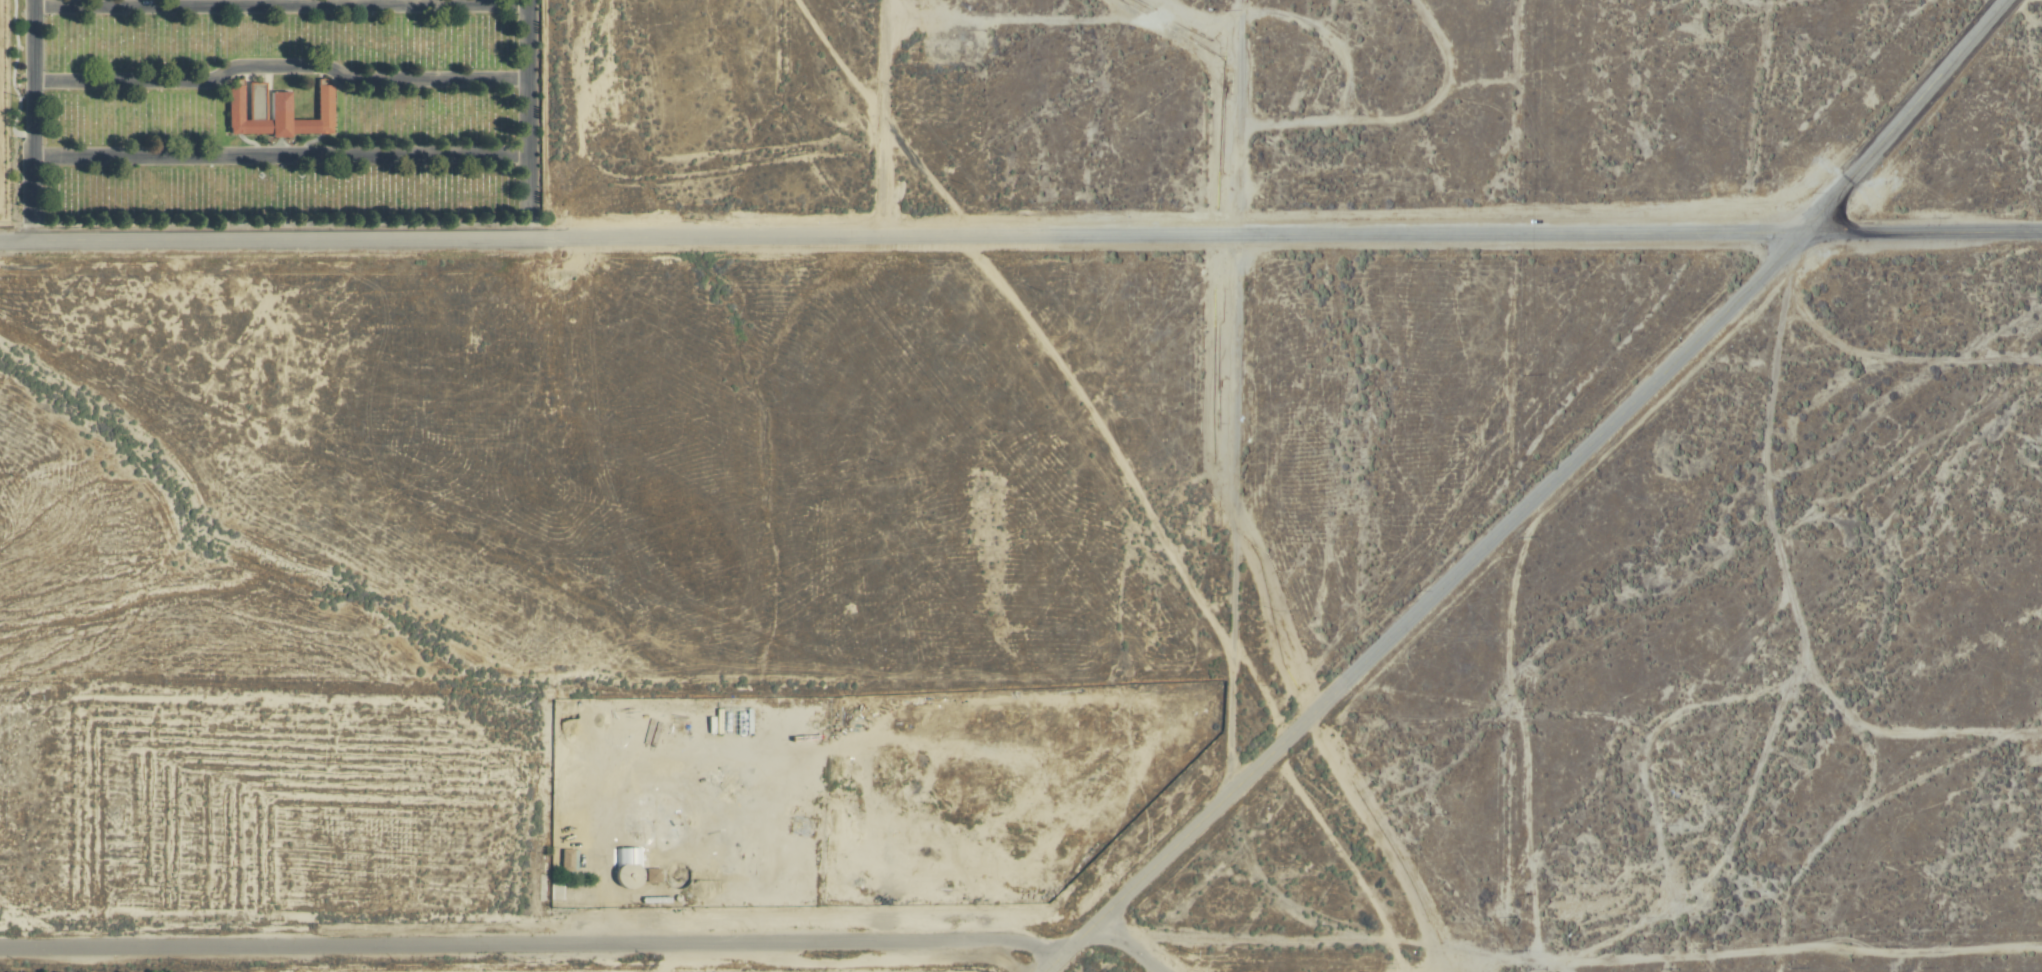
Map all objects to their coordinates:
road: (530, 42)
road: (284, 73)
building: (275, 113)
park: (287, 115)
road: (885, 119)
road: (38, 122)
road: (531, 162)
road: (1922, 232)
road: (900, 238)
road: (1534, 495)
building: (800, 825)
building: (565, 860)
building: (628, 875)
road: (533, 945)

